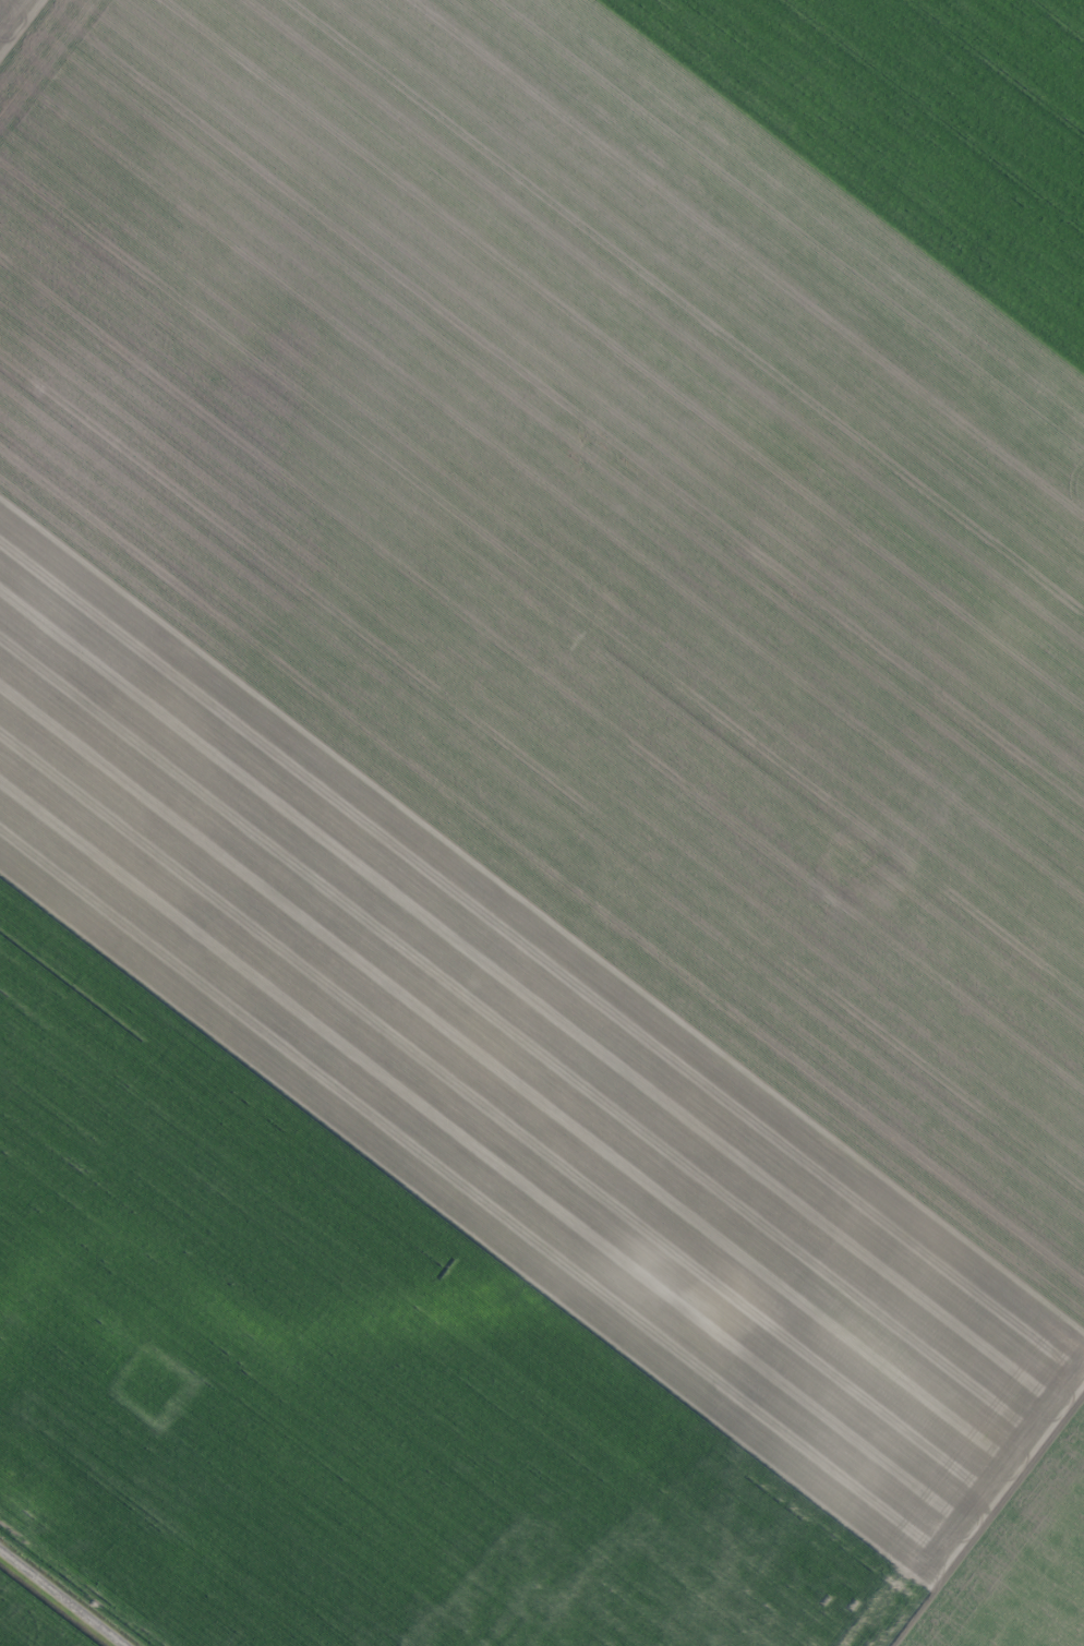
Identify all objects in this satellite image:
road: (67, 1594)

